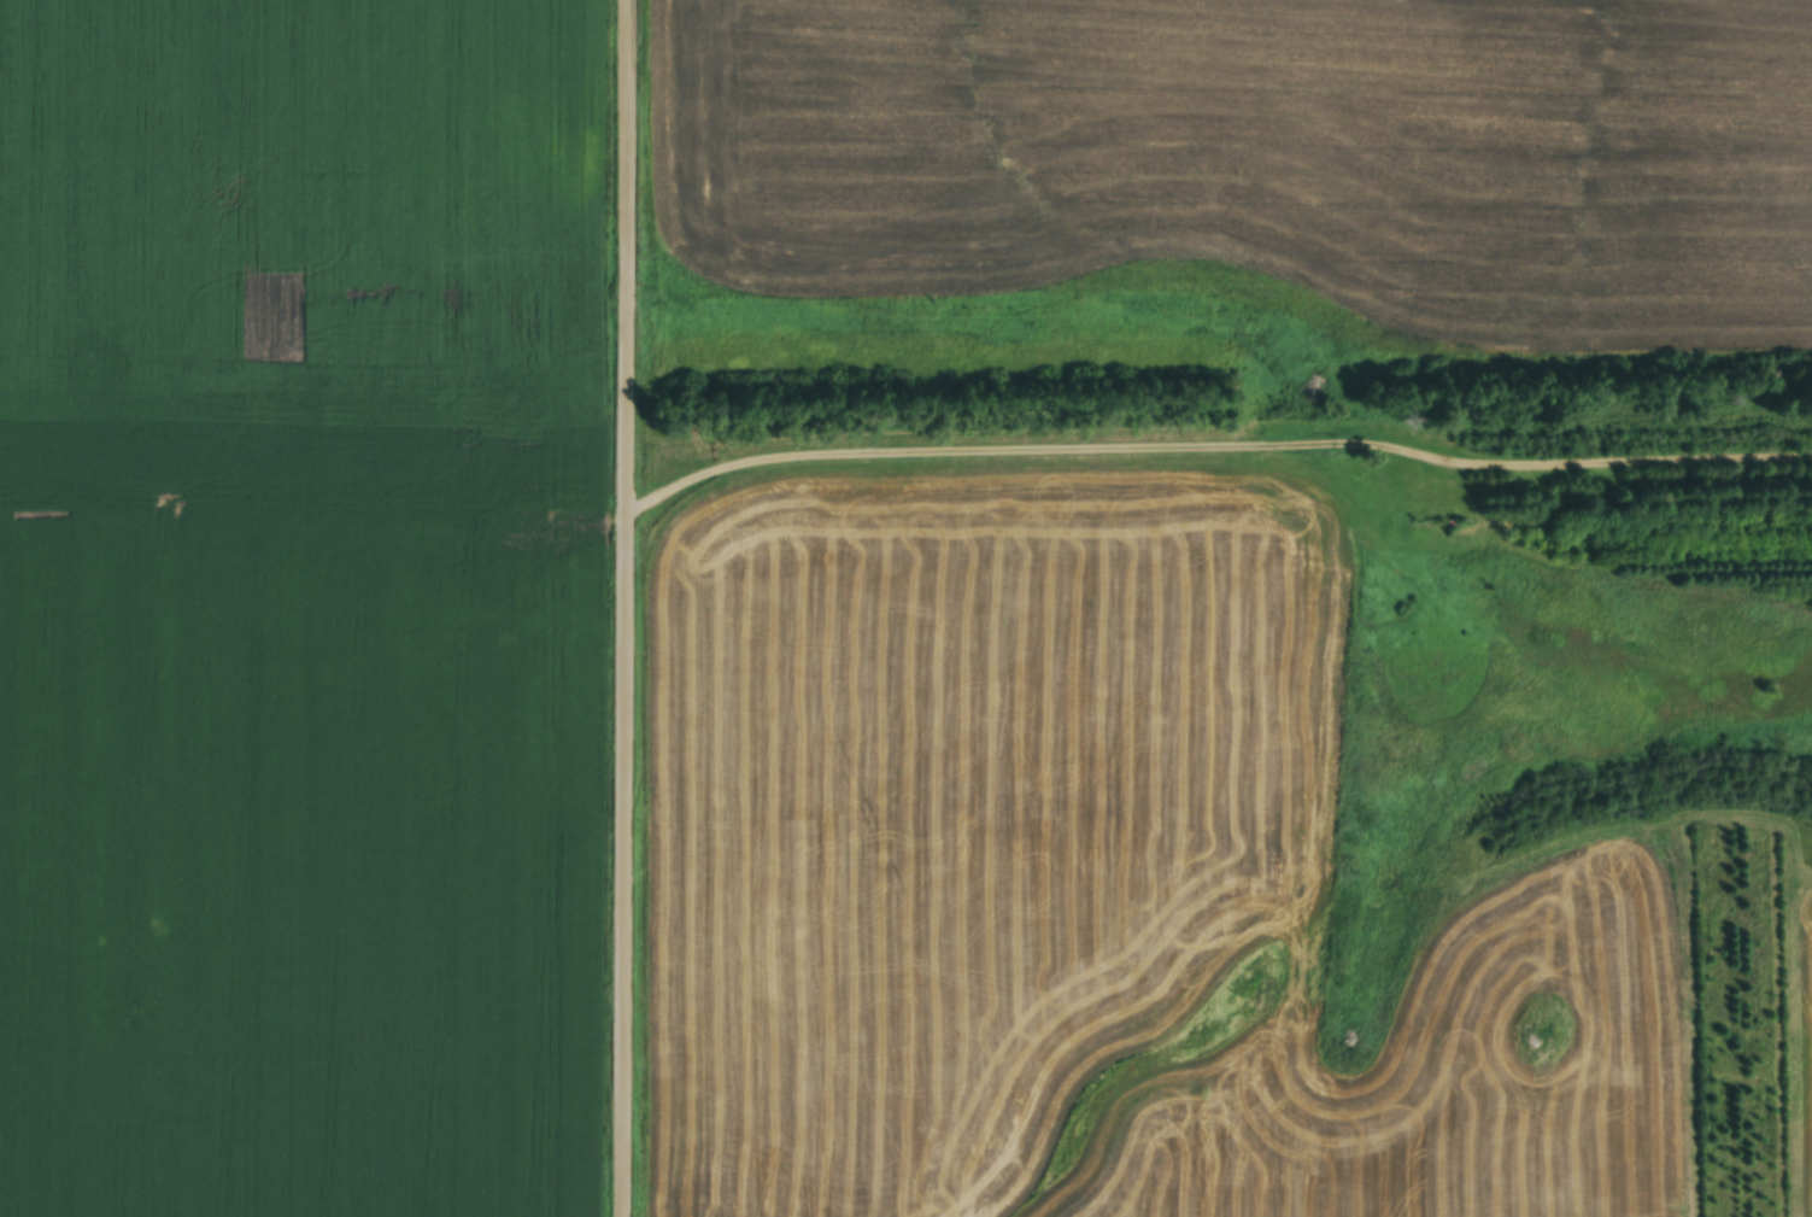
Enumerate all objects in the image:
road: (633, 608)

